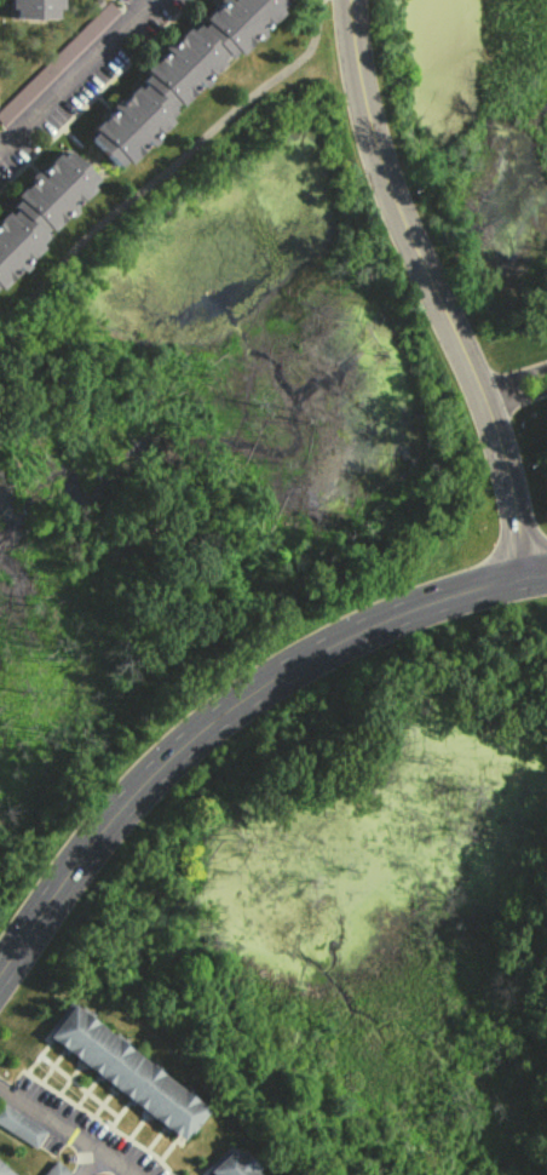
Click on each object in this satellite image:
building: (36, 8)
building: (179, 74)
road: (81, 75)
road: (175, 153)
building: (41, 208)
road: (430, 288)
road: (516, 395)
road: (536, 573)
road: (218, 720)
building: (121, 1067)
building: (19, 1125)
road: (63, 1130)
building: (230, 1164)
road: (97, 1165)
building: (53, 1169)
building: (4, 1170)

